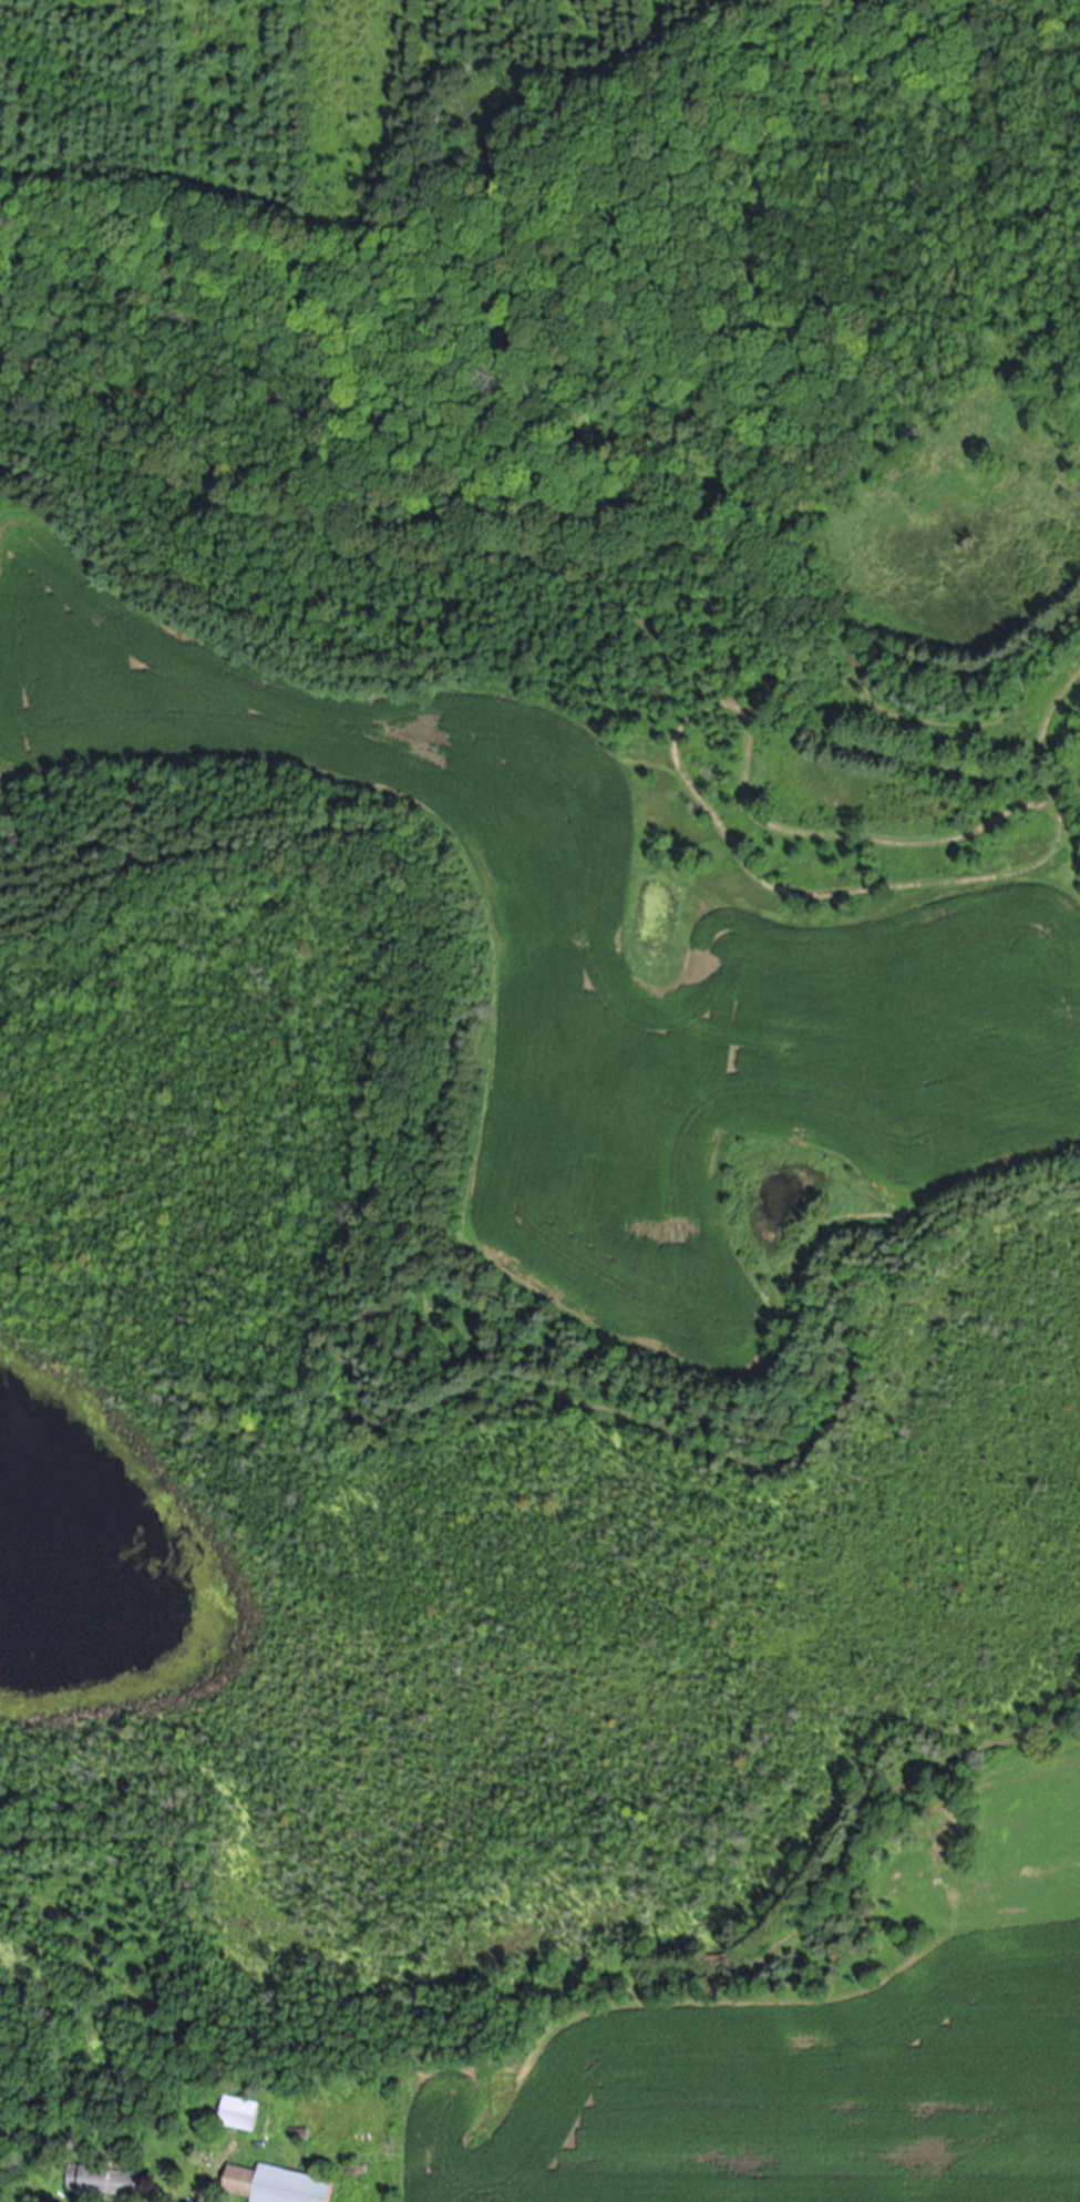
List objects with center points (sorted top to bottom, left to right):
building: (238, 2114)
building: (89, 2181)
building: (124, 2184)
building: (275, 2185)

